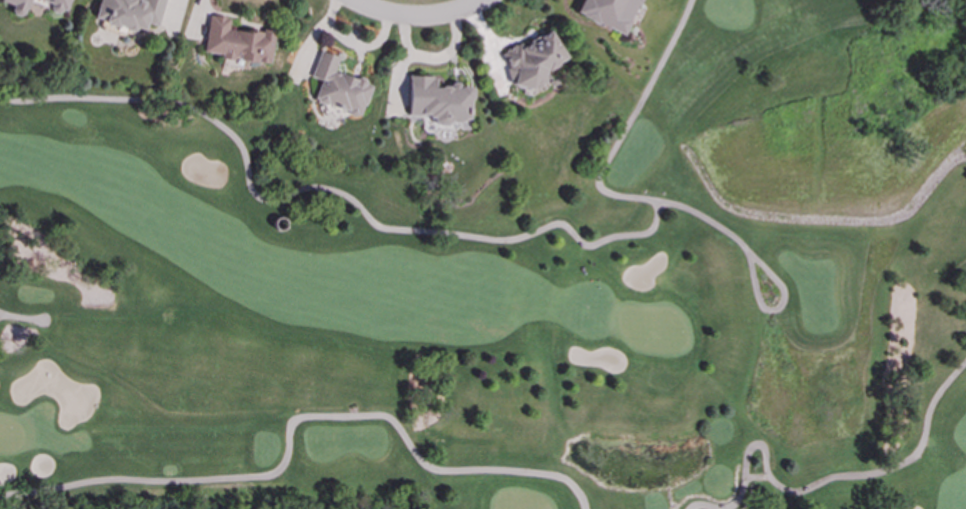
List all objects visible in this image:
building: (57, 4)
building: (20, 7)
building: (132, 13)
building: (610, 13)
road: (424, 14)
building: (239, 43)
building: (535, 60)
building: (440, 101)
road: (632, 120)
road: (365, 214)
park: (509, 292)
road: (778, 309)
road: (22, 317)
road: (294, 421)
road: (842, 477)
road: (701, 507)

